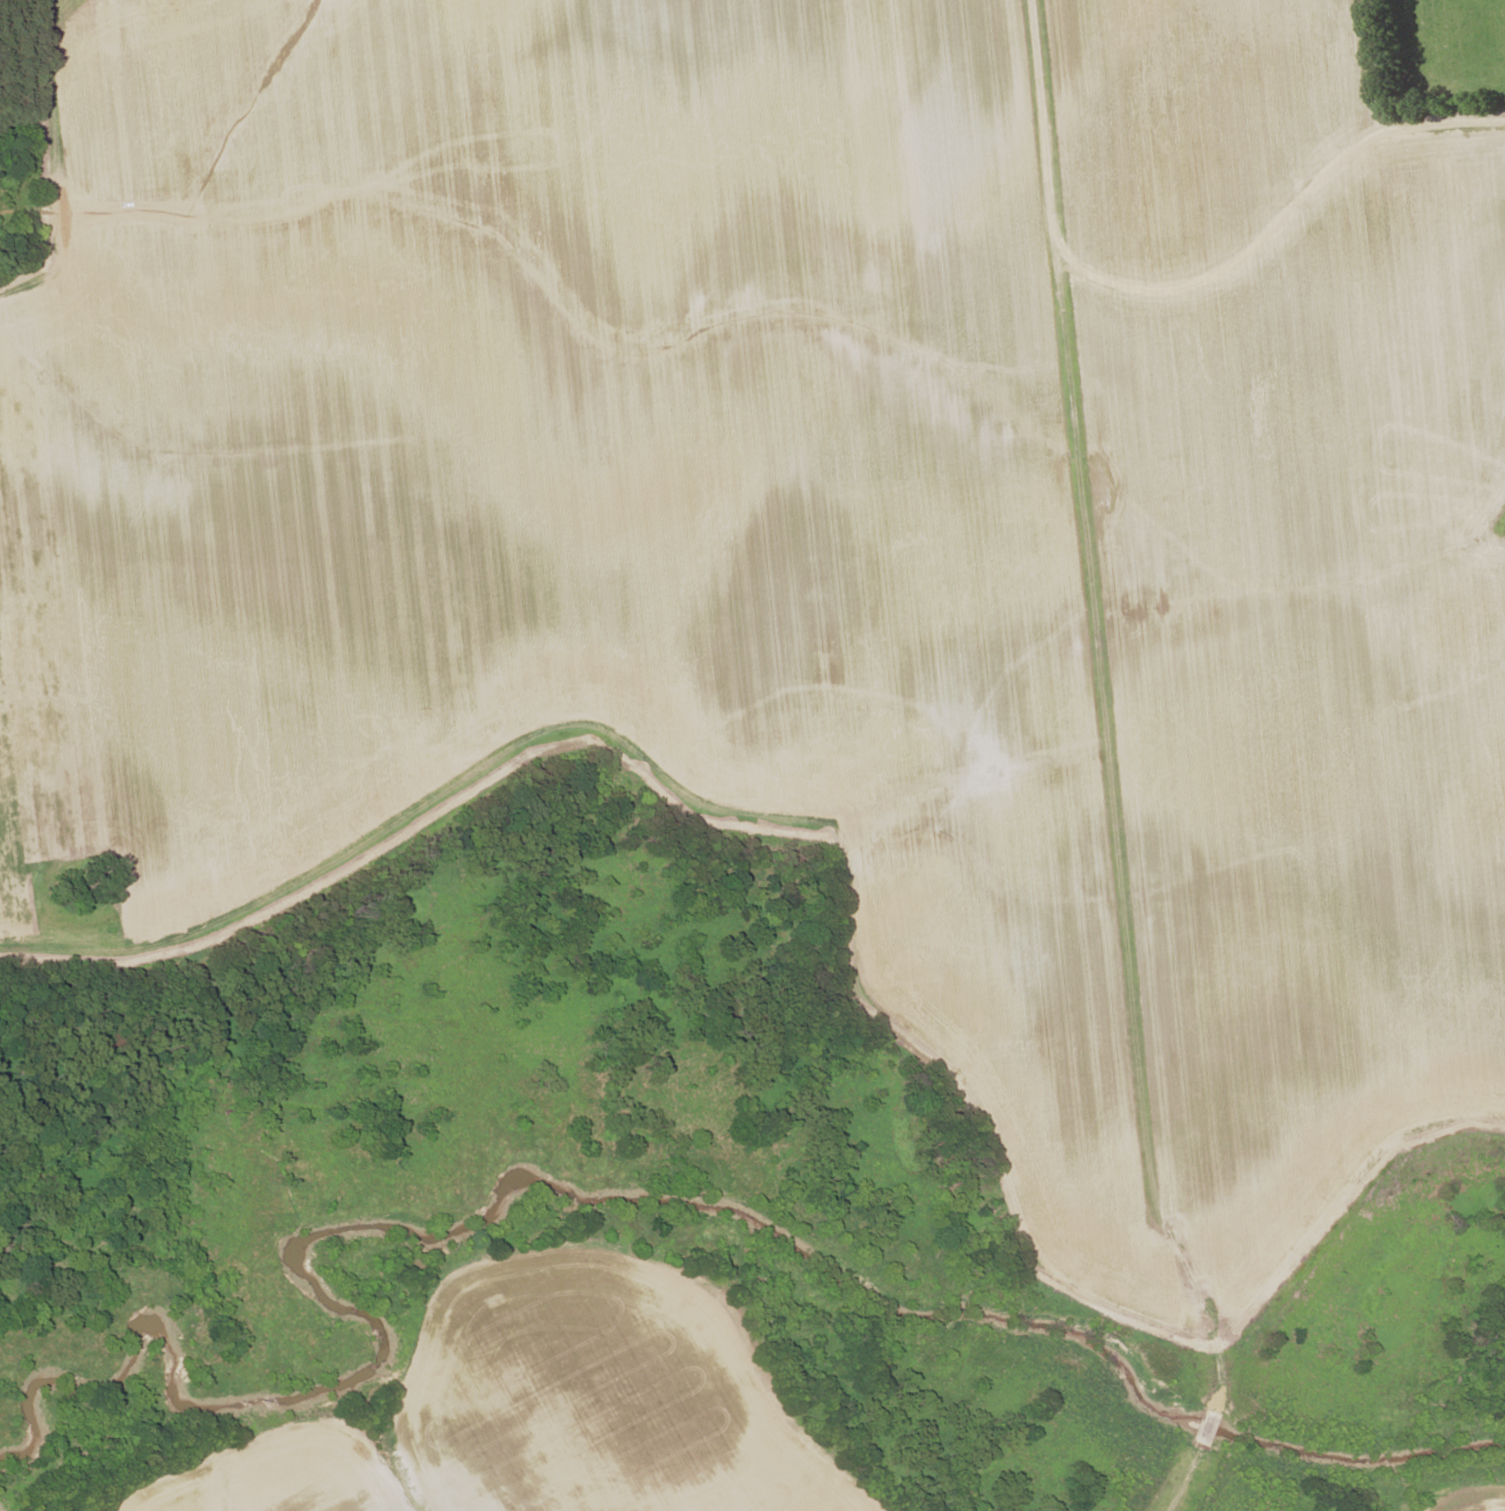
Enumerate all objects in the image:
building: (1205, 1427)

